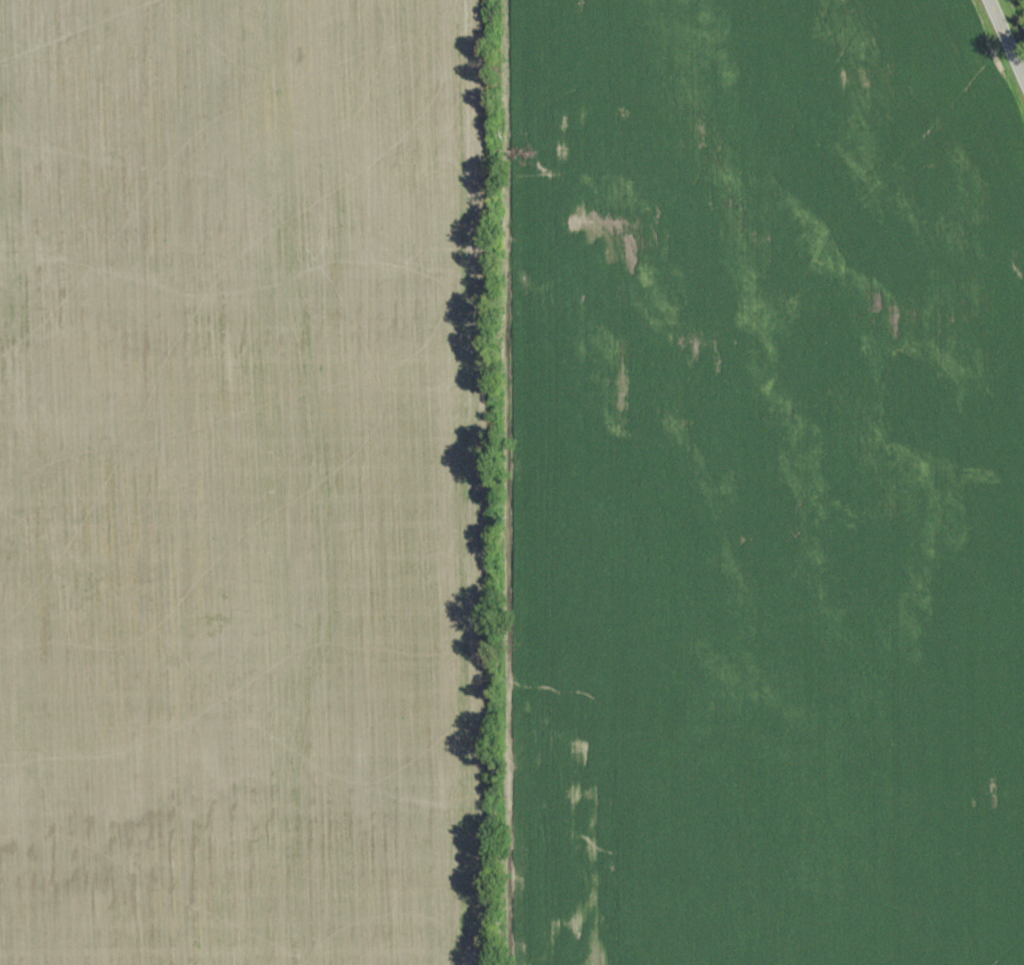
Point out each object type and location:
road: (1008, 35)

